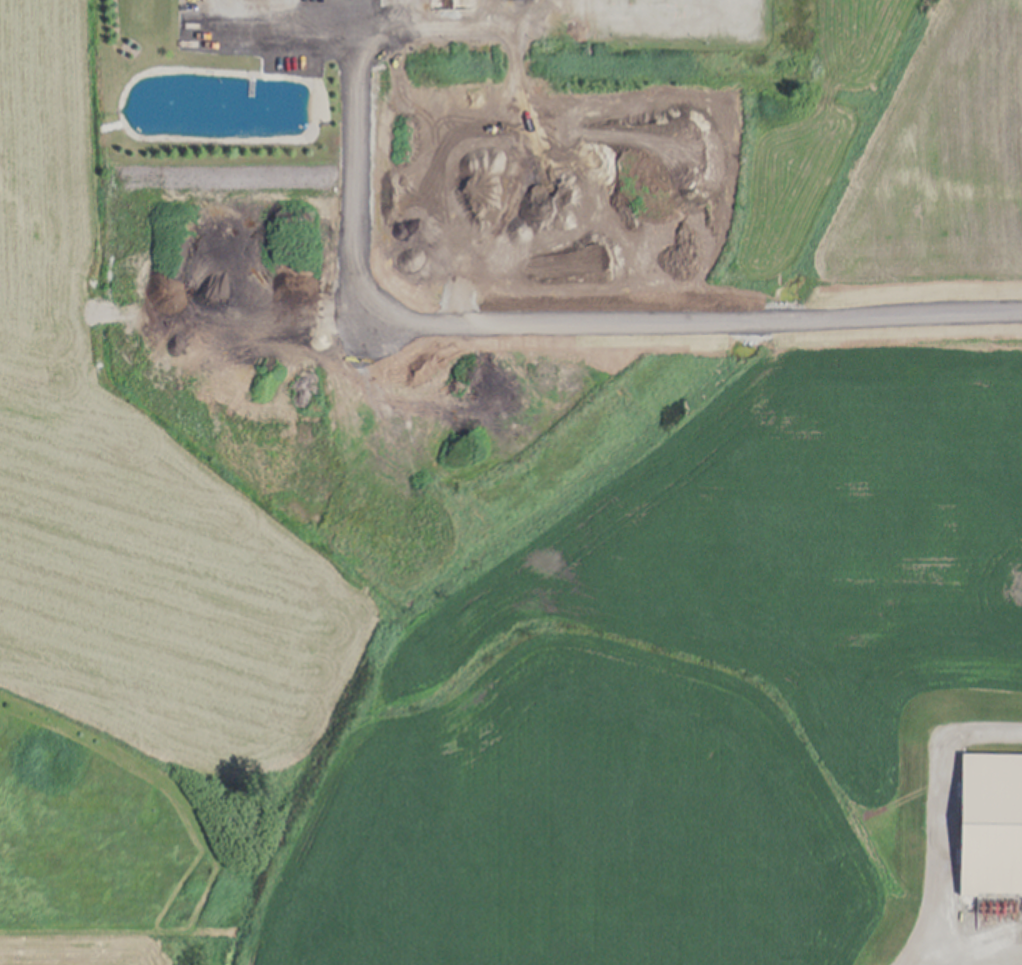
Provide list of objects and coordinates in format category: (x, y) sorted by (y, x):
road: (276, 25)
road: (545, 323)
building: (991, 817)

